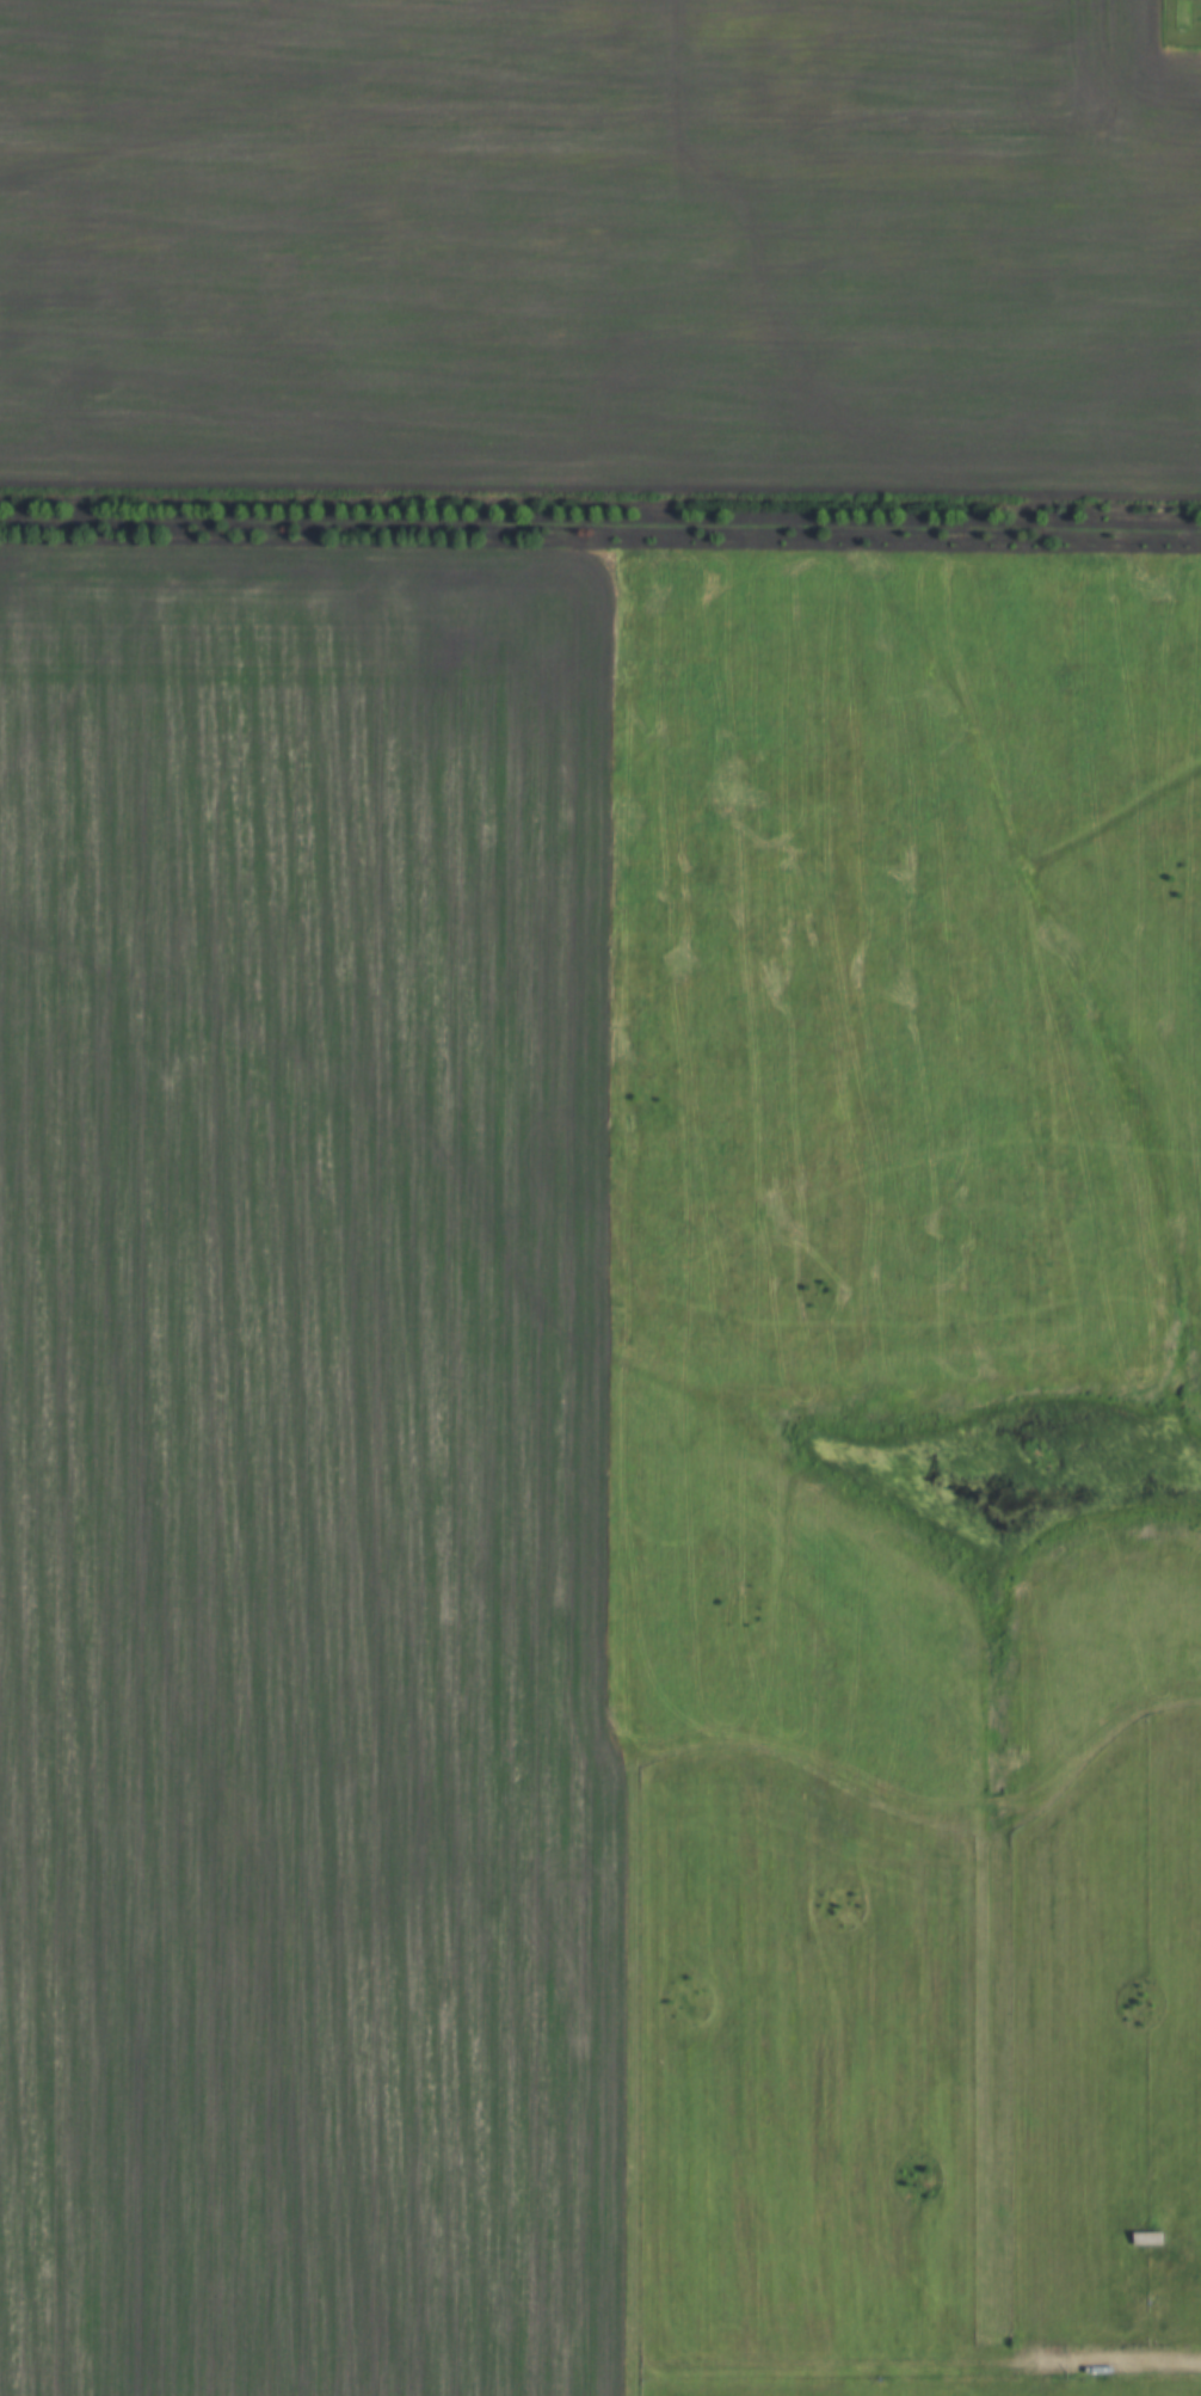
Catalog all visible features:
building: (1153, 2240)

